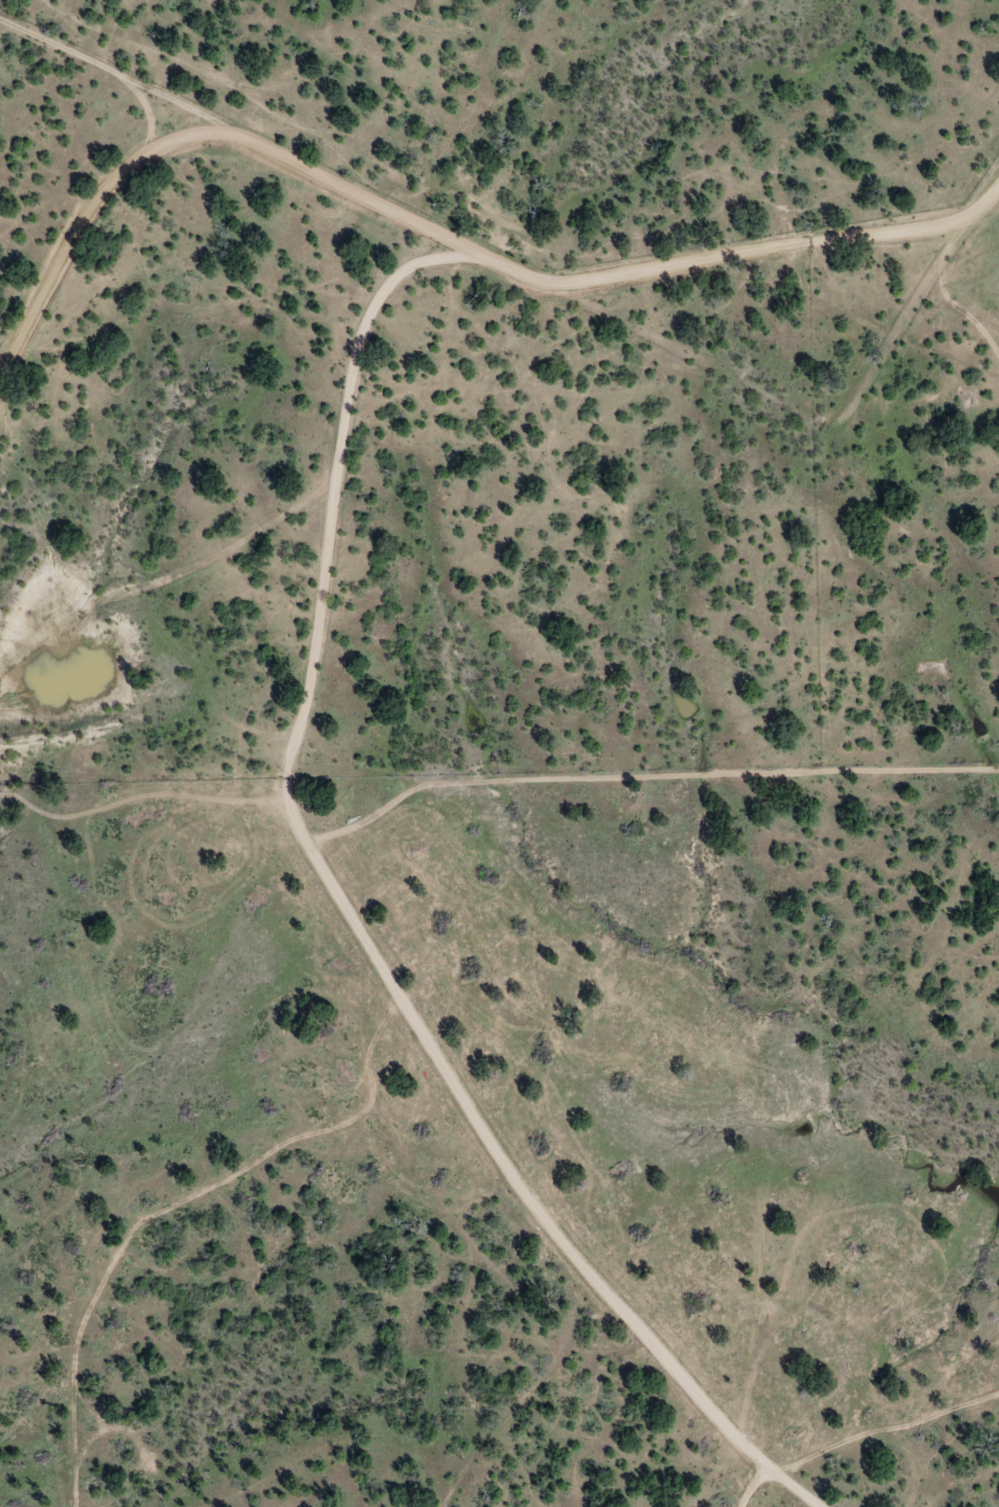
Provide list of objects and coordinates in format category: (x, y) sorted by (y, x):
road: (101, 65)
road: (438, 236)
road: (350, 915)

